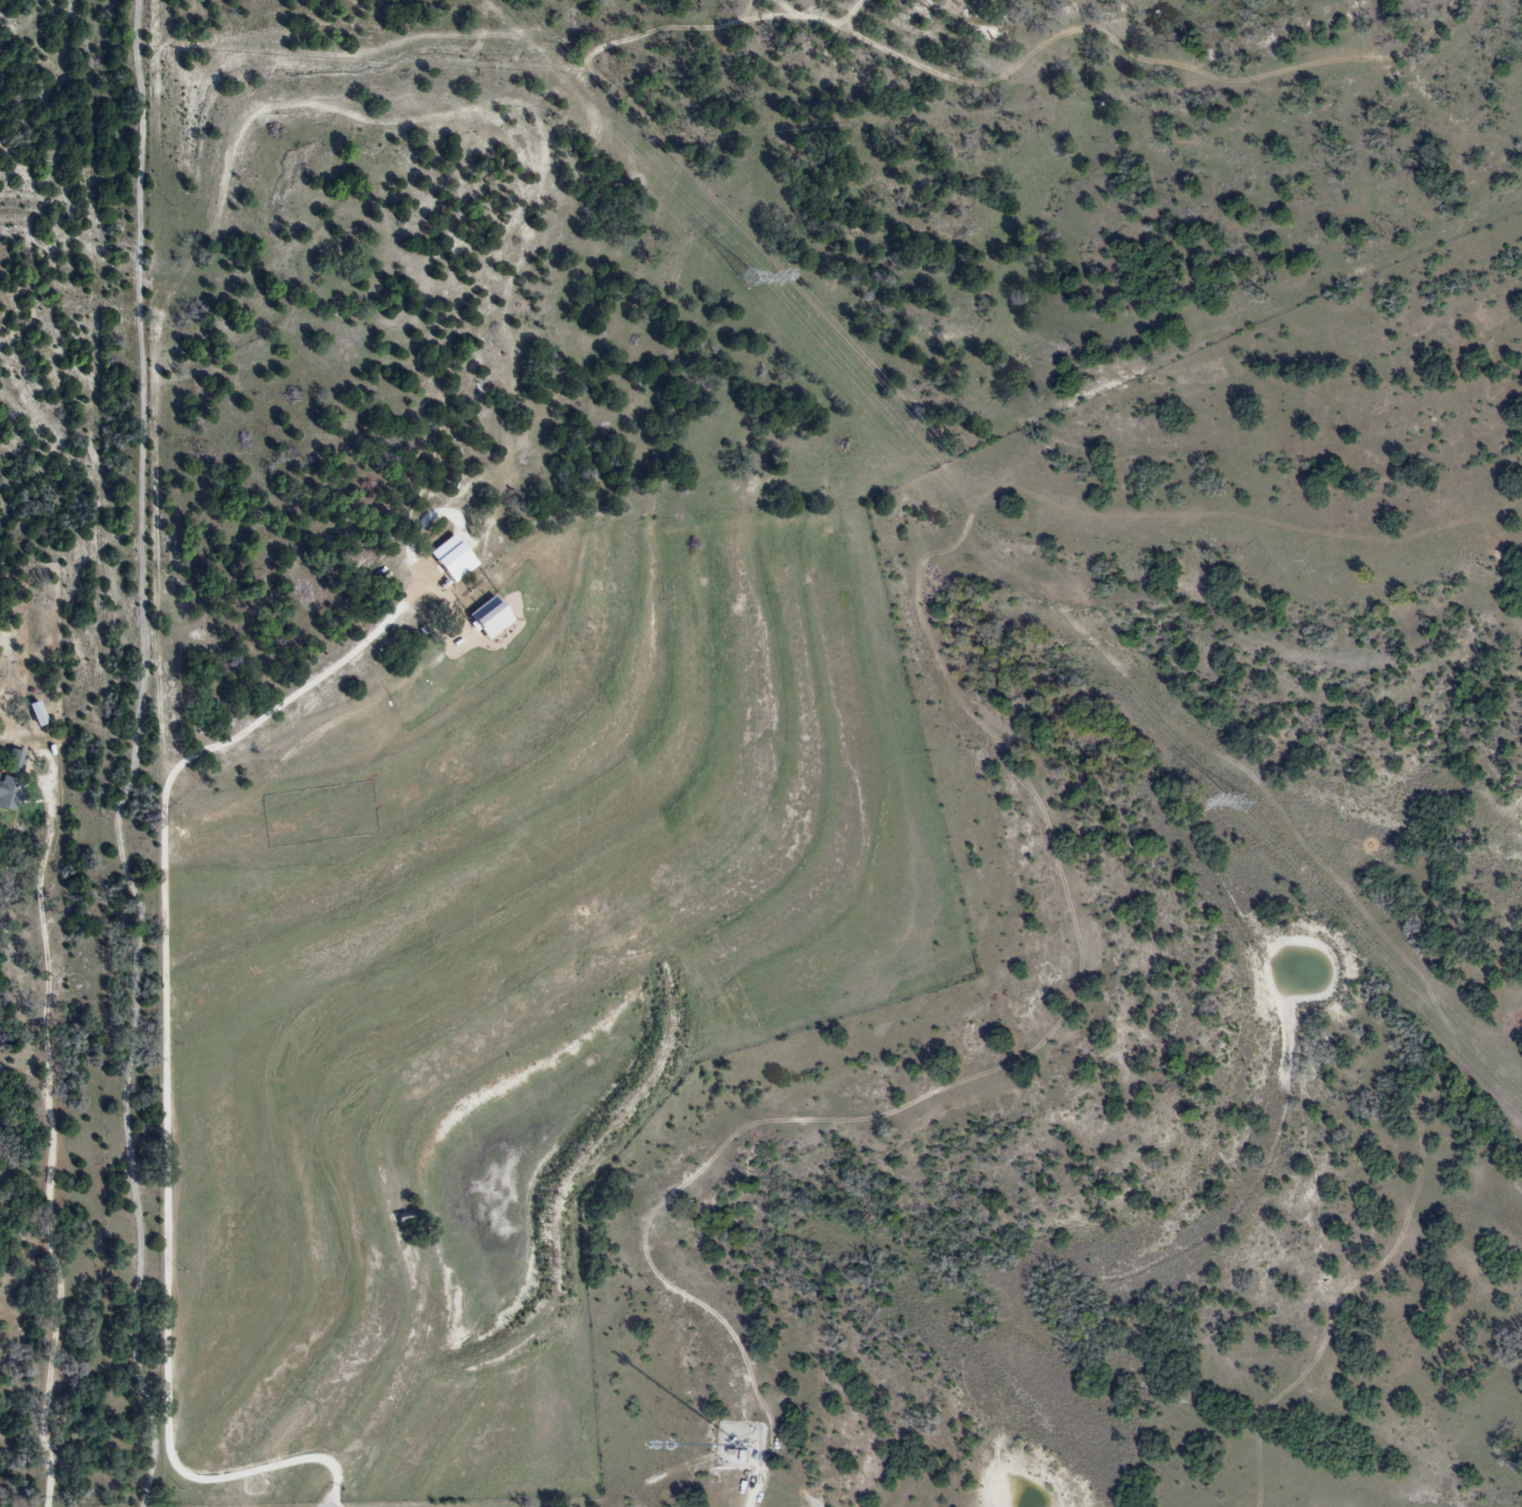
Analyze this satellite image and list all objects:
power tower: (745, 277)
building: (490, 619)
building: (37, 715)
road: (140, 757)
building: (16, 763)
building: (10, 794)
power tower: (1241, 804)
road: (172, 1072)
road: (54, 1154)

